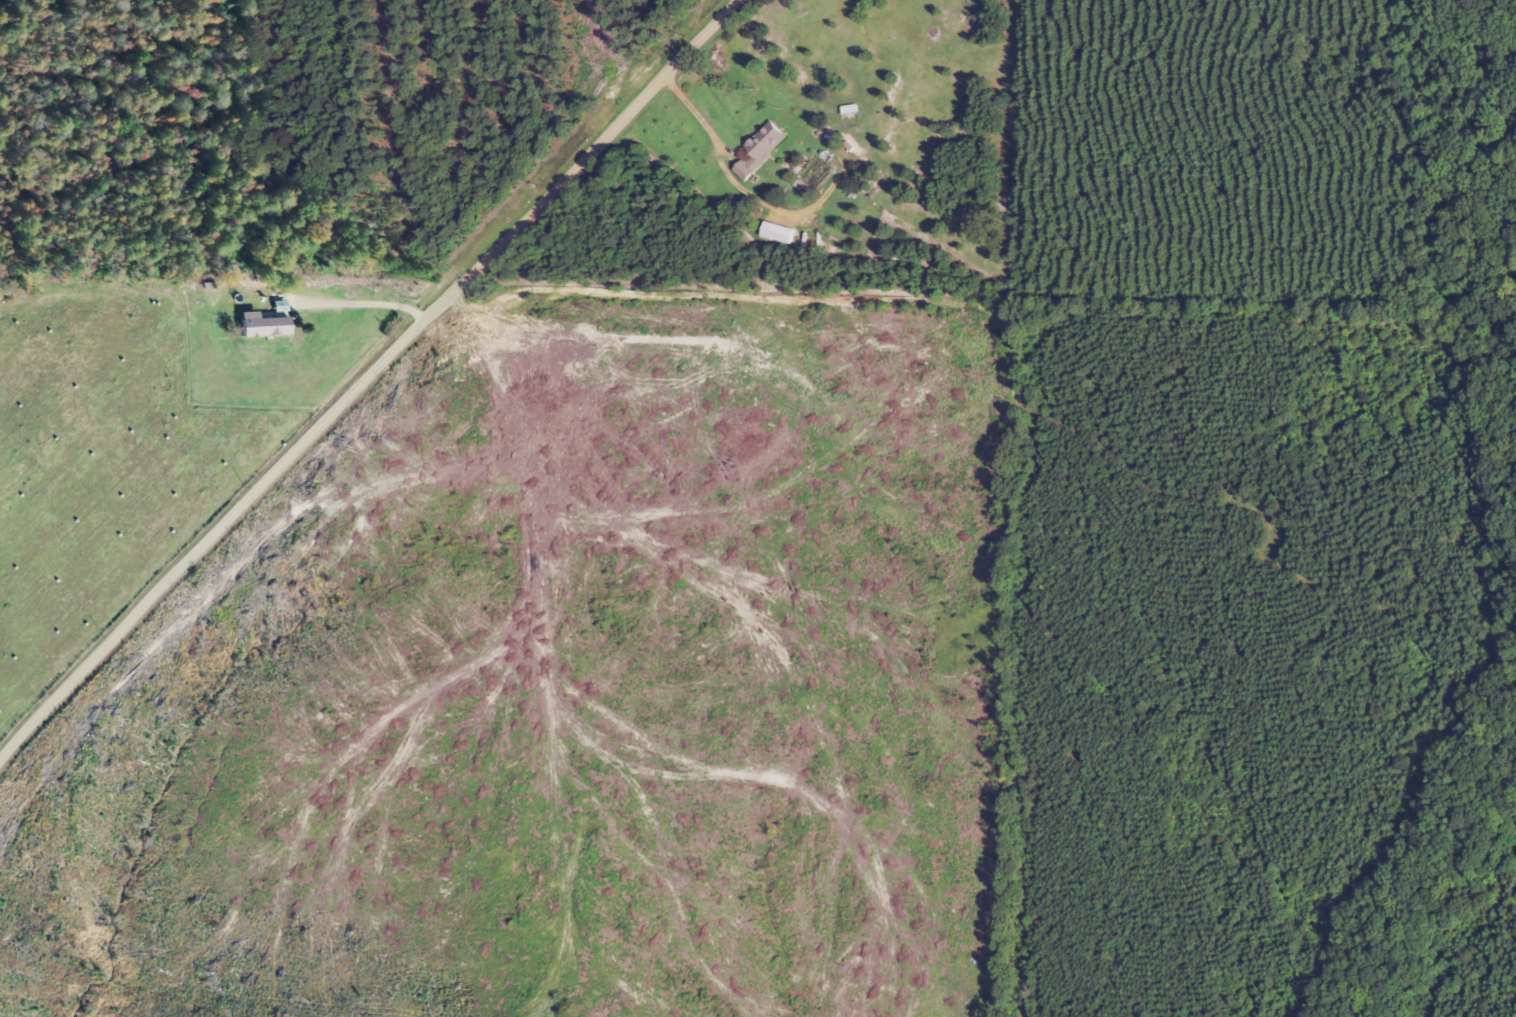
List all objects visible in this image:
road: (382, 435)
road: (13, 837)

